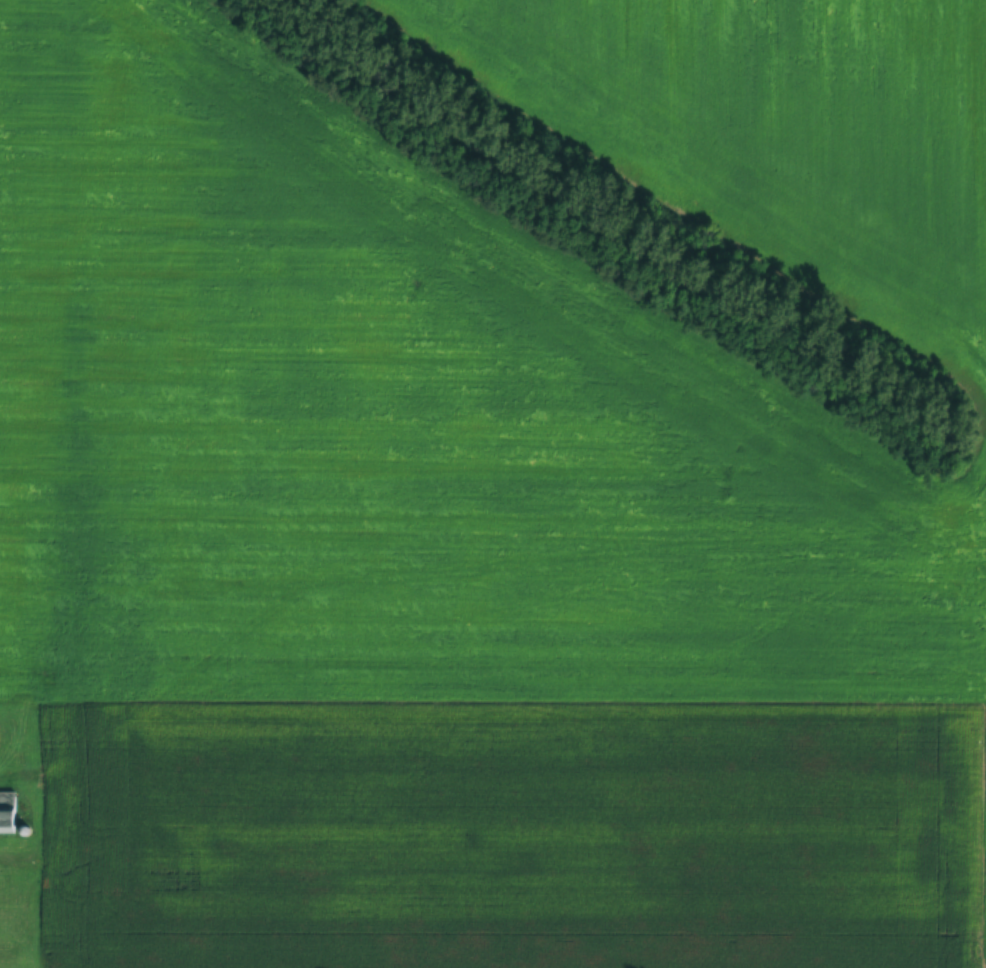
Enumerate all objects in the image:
building: (4, 810)
building: (25, 830)
silo: (25, 830)

